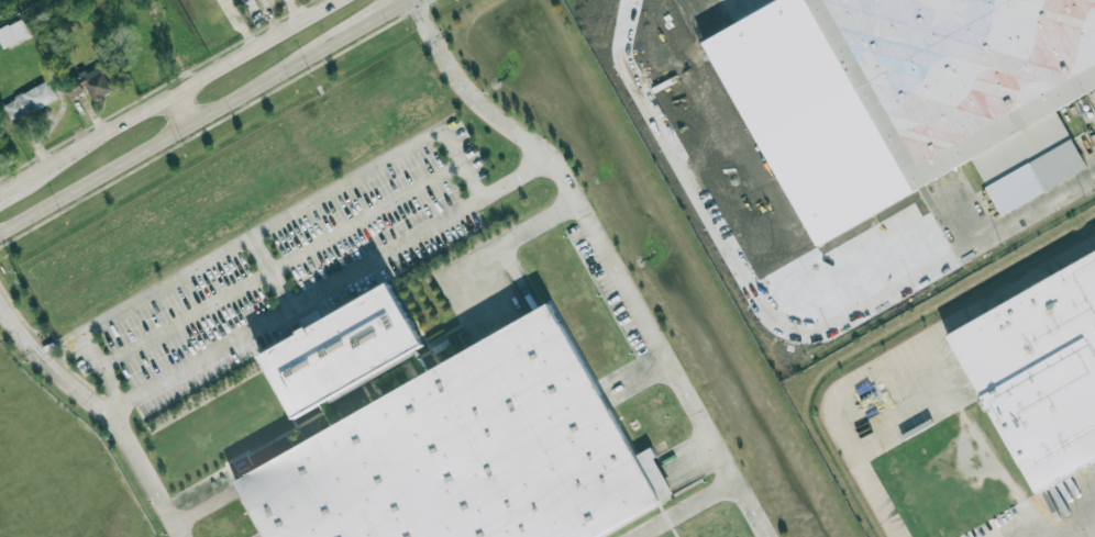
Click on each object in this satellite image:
road: (298, 9)
road: (711, 11)
road: (373, 19)
road: (237, 24)
building: (13, 32)
road: (320, 49)
road: (641, 52)
building: (969, 76)
building: (97, 82)
building: (74, 88)
road: (168, 96)
building: (29, 101)
road: (180, 109)
road: (148, 146)
road: (461, 166)
road: (515, 181)
road: (1013, 222)
road: (261, 232)
road: (509, 242)
road: (604, 253)
road: (279, 266)
road: (267, 275)
road: (291, 306)
building: (340, 353)
road: (100, 369)
building: (1041, 372)
road: (637, 376)
road: (103, 411)
building: (463, 452)
road: (198, 505)
road: (685, 510)
road: (1080, 528)
road: (765, 536)
road: (766, 536)

